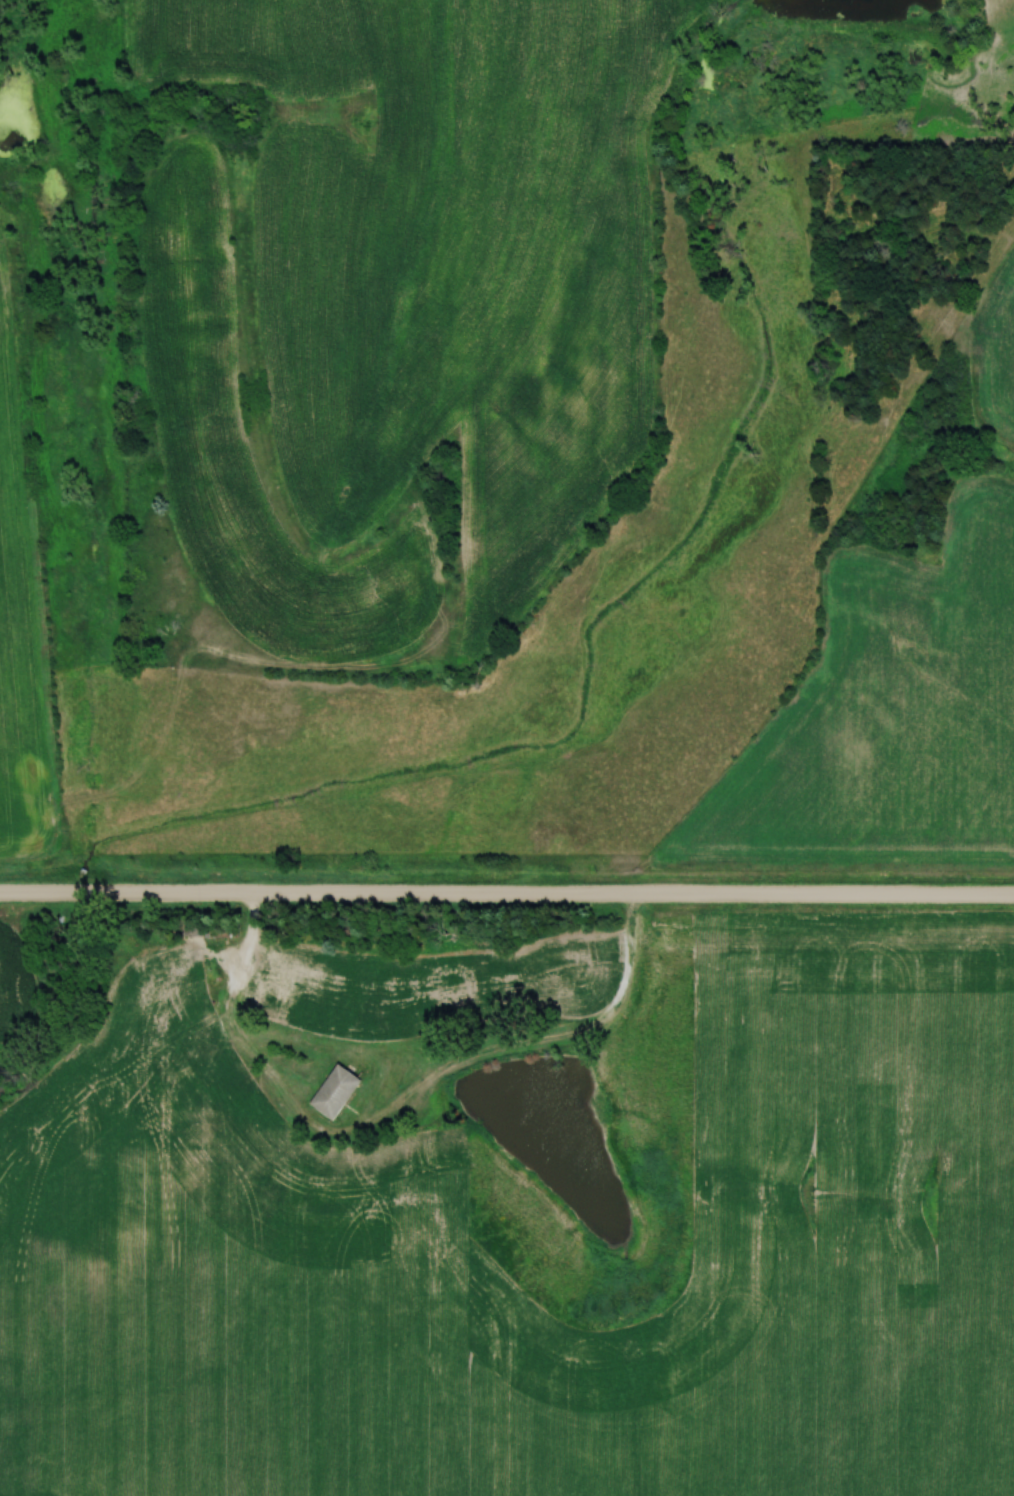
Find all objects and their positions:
road: (507, 896)
building: (560, 973)
building: (338, 1093)
road: (381, 1117)

